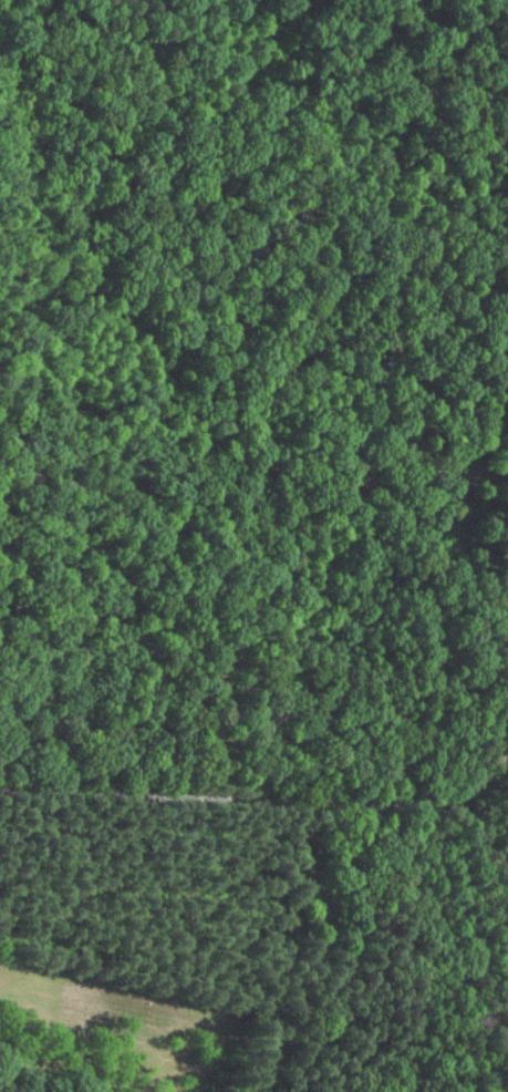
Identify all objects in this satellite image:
road: (260, 799)

